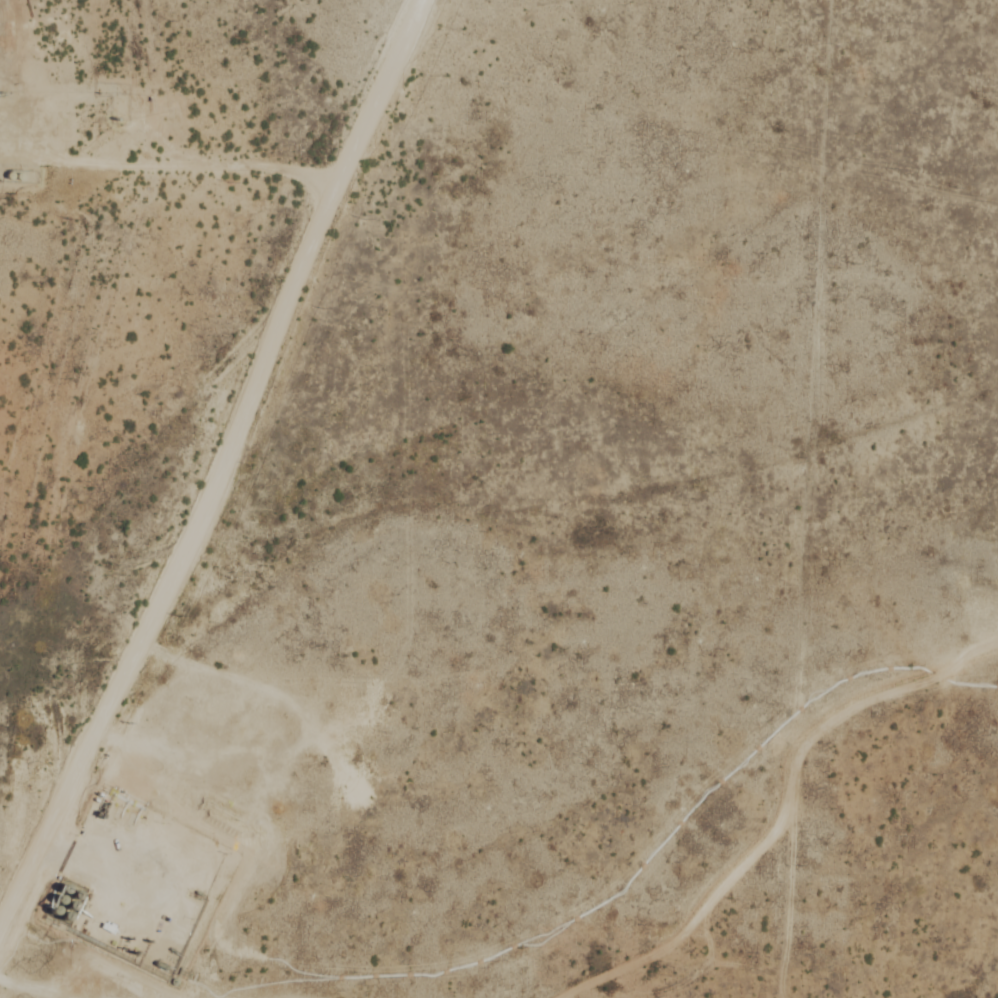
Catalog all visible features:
road: (182, 152)
road: (221, 469)

